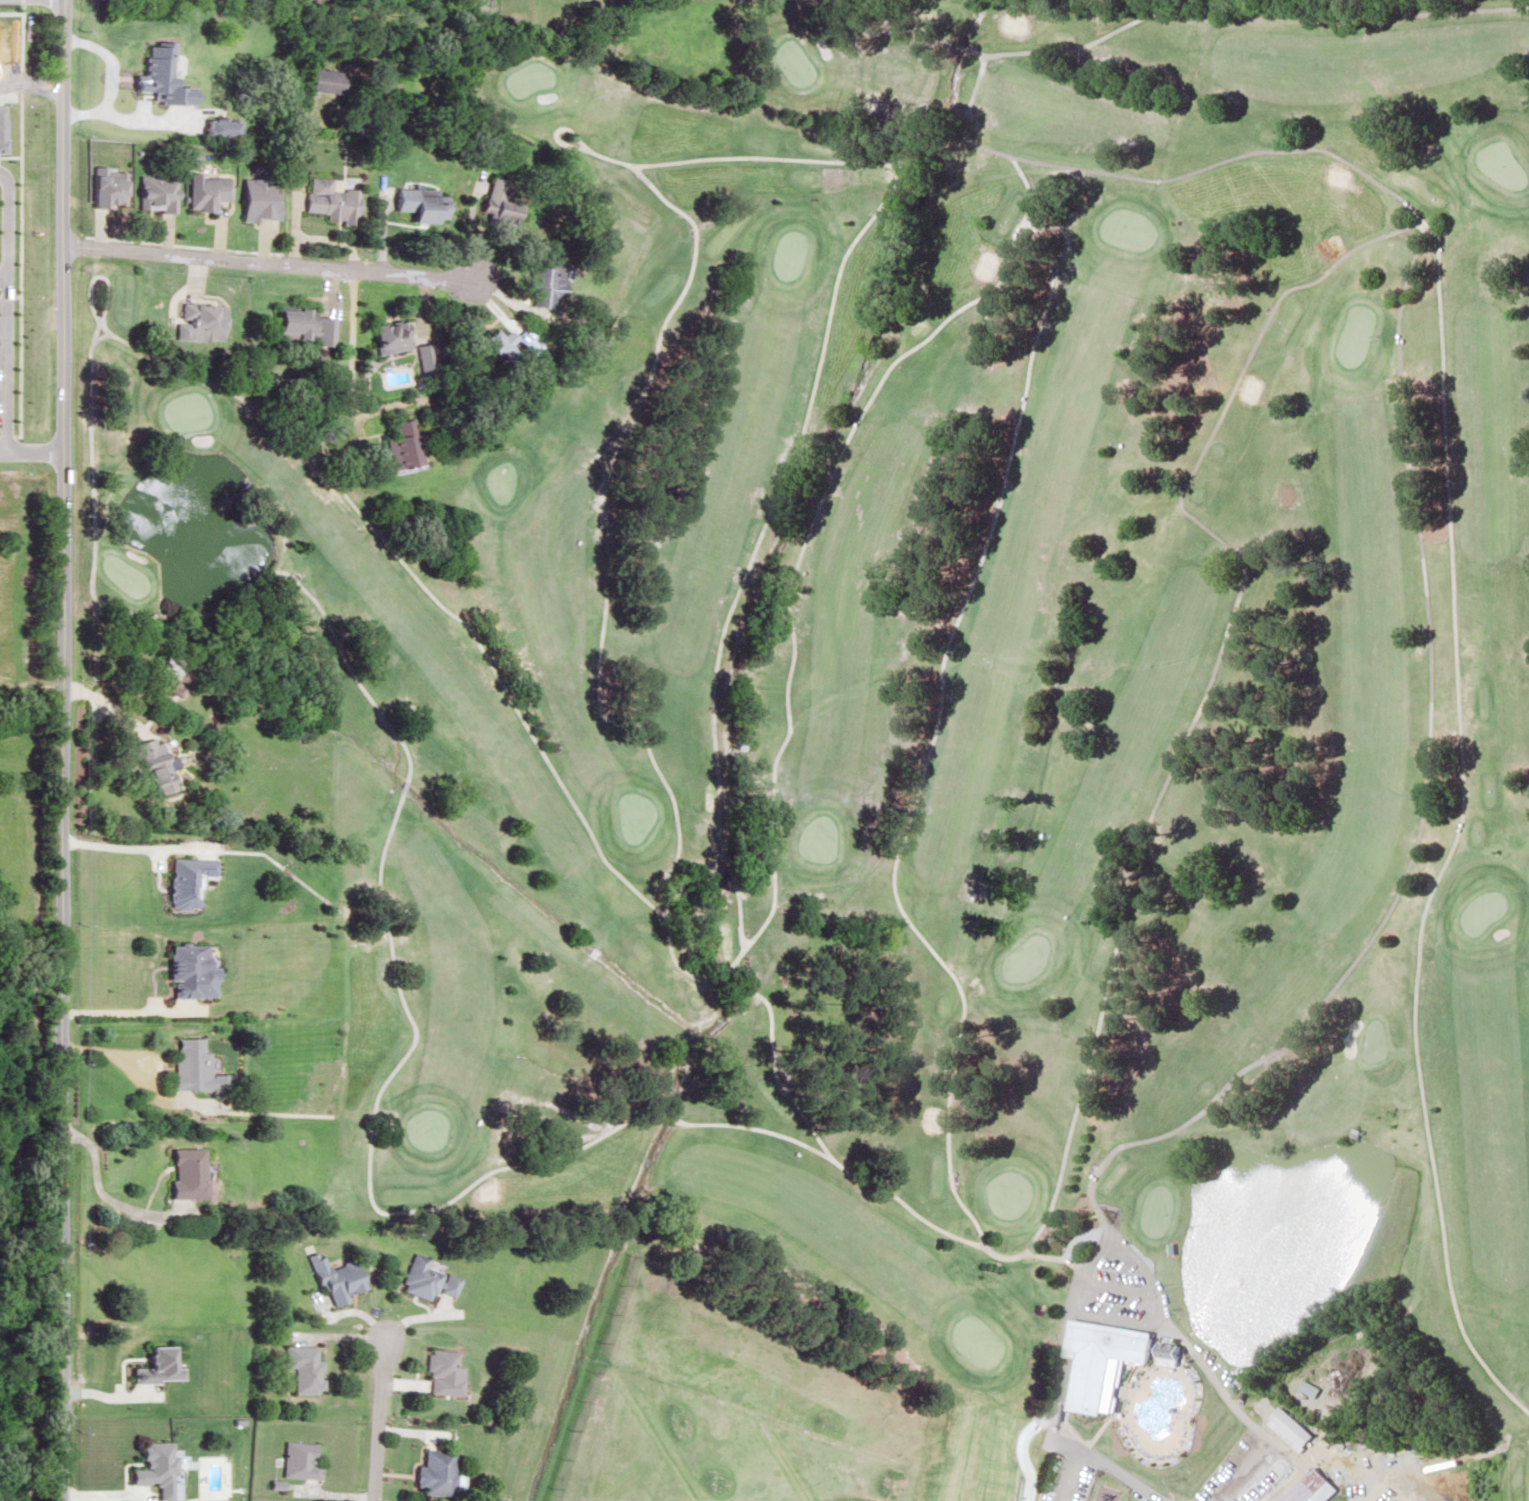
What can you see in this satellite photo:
building: (223, 47)
building: (322, 79)
building: (493, 194)
building: (325, 199)
building: (405, 203)
road: (266, 265)
building: (535, 281)
building: (201, 318)
building: (299, 325)
building: (385, 335)
building: (485, 338)
building: (17, 406)
building: (402, 440)
building: (170, 675)
park: (941, 740)
road: (64, 750)
building: (149, 765)
building: (182, 879)
building: (184, 968)
building: (190, 1070)
building: (182, 1173)
building: (426, 1278)
building: (337, 1281)
building: (1098, 1359)
building: (301, 1368)
building: (441, 1372)
road: (375, 1421)
building: (1287, 1427)
road: (1047, 1436)
building: (1109, 1437)
building: (1208, 1449)
building: (1395, 1449)
building: (297, 1459)
building: (150, 1468)
building: (431, 1471)
building: (1309, 1488)
building: (1391, 1500)

